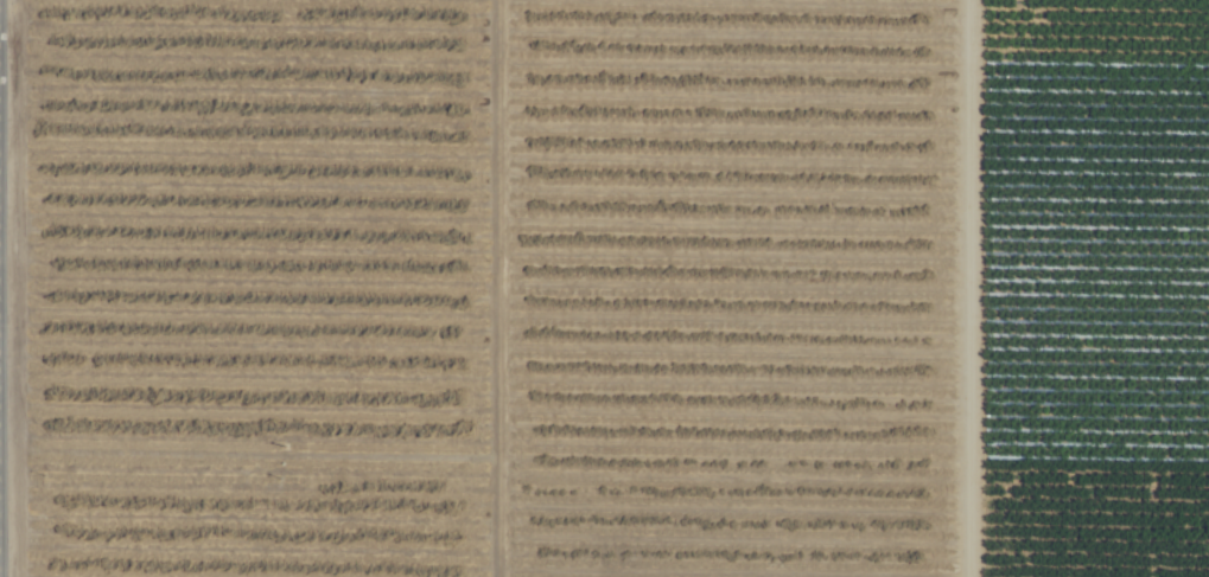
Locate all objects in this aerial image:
crop: (604, 288)
road: (944, 288)

